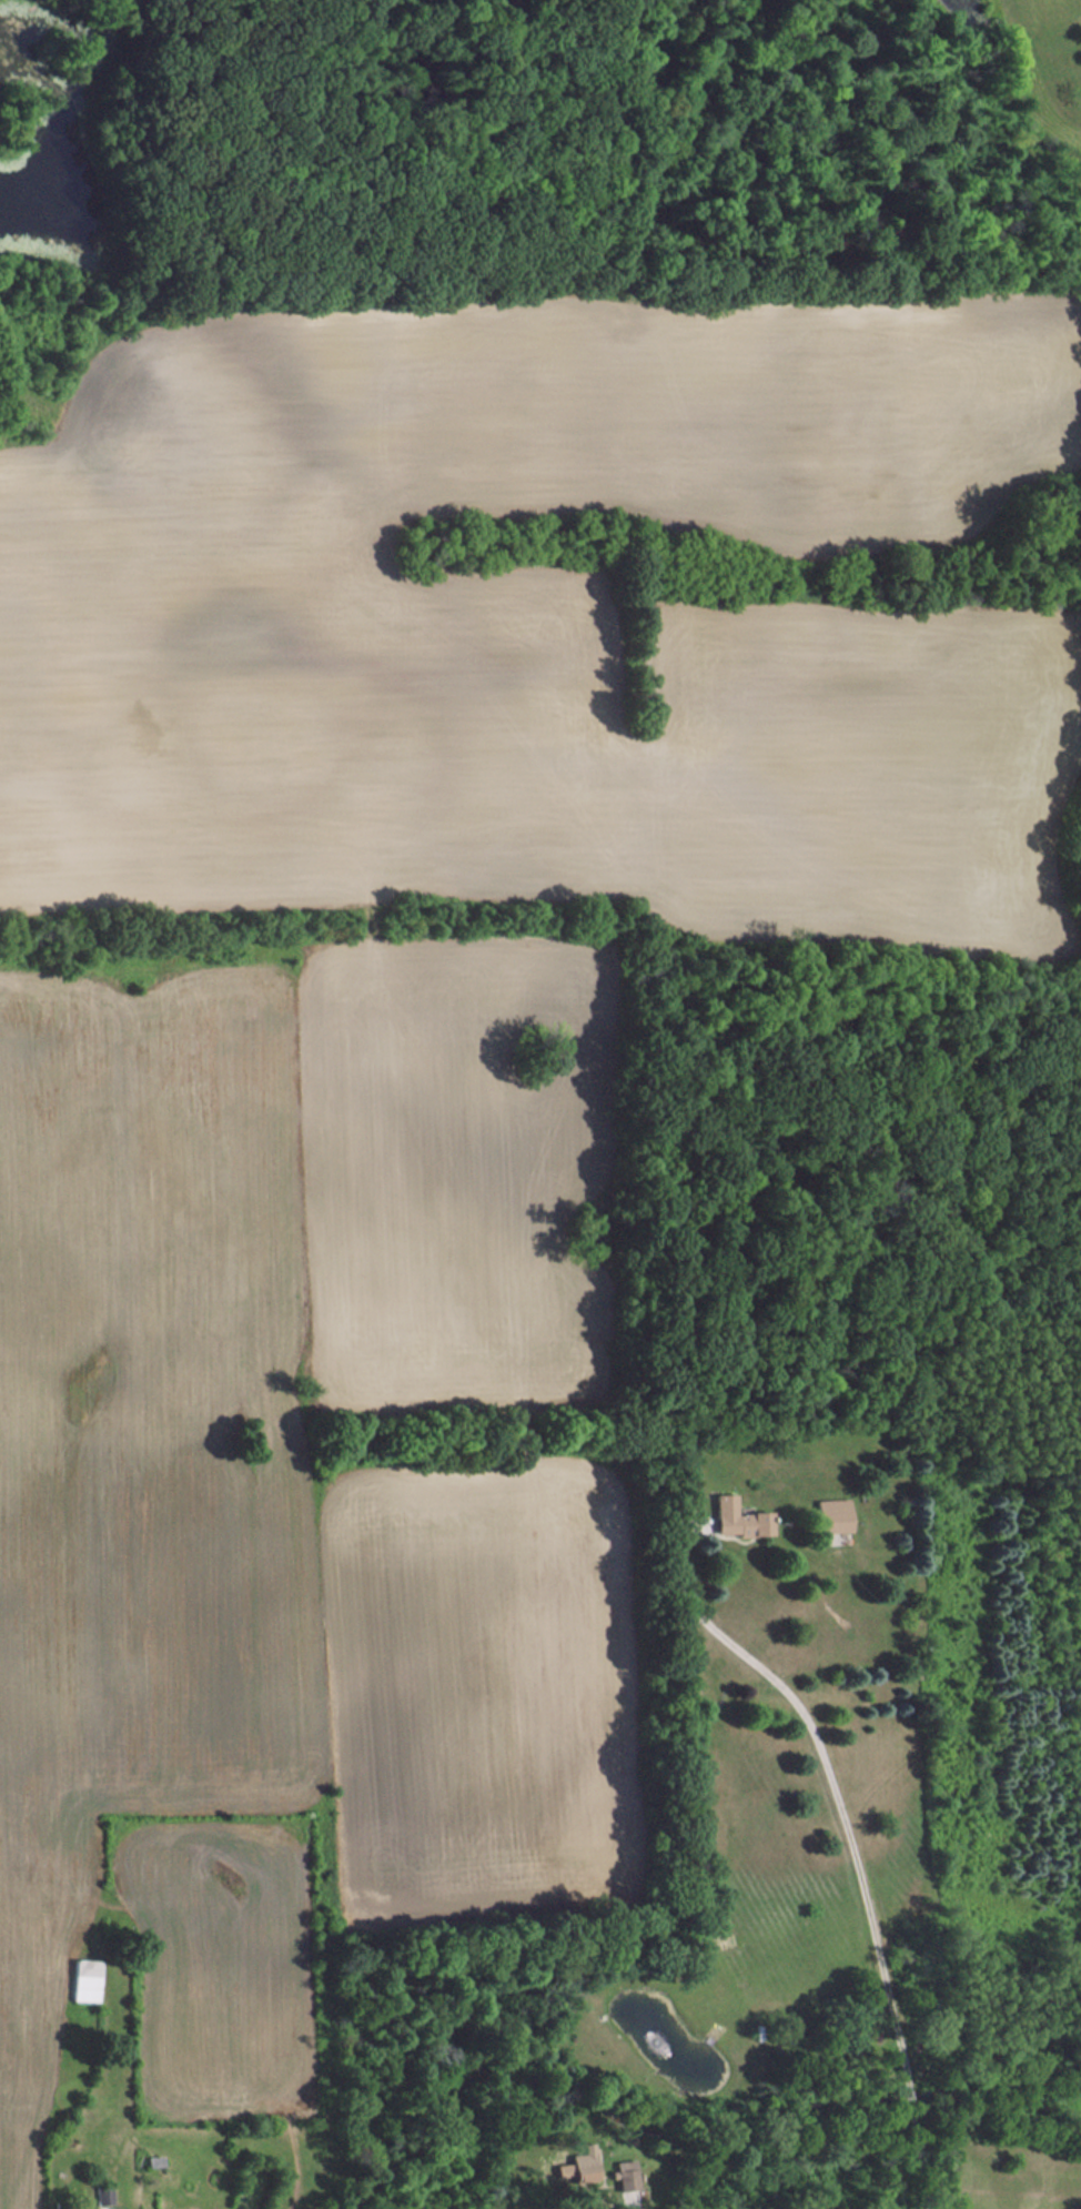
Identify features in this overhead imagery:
building: (831, 1515)
building: (736, 1517)
road: (853, 1843)
building: (84, 1980)
building: (586, 2167)
building: (627, 2182)
building: (103, 2195)
road: (633, 2207)

